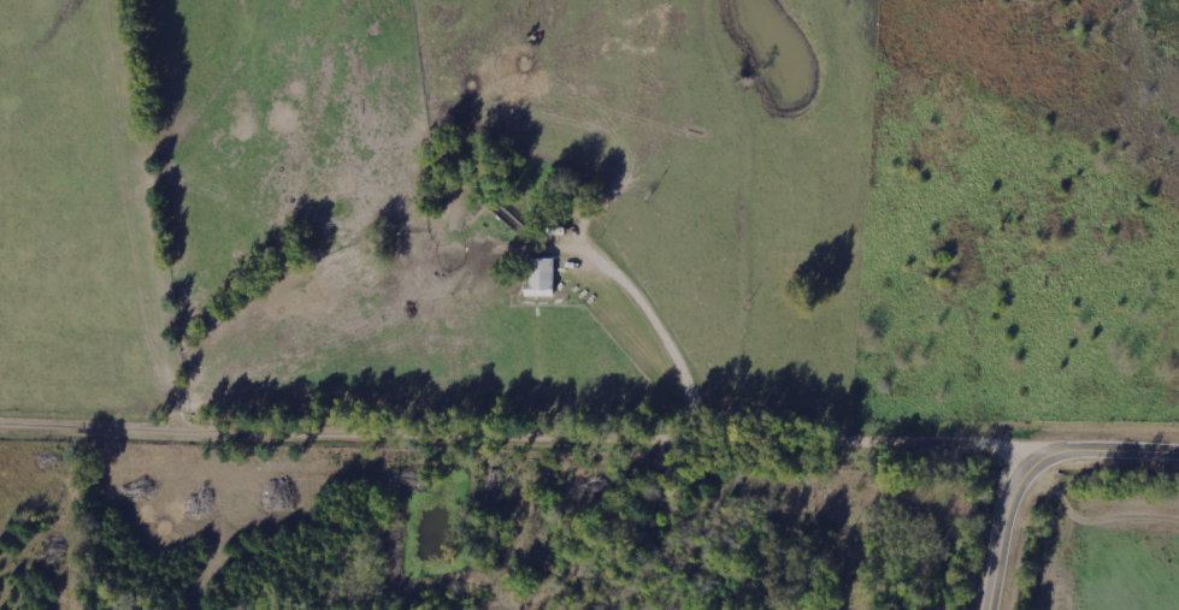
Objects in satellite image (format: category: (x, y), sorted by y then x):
road: (182, 218)
road: (523, 440)
road: (1034, 470)

